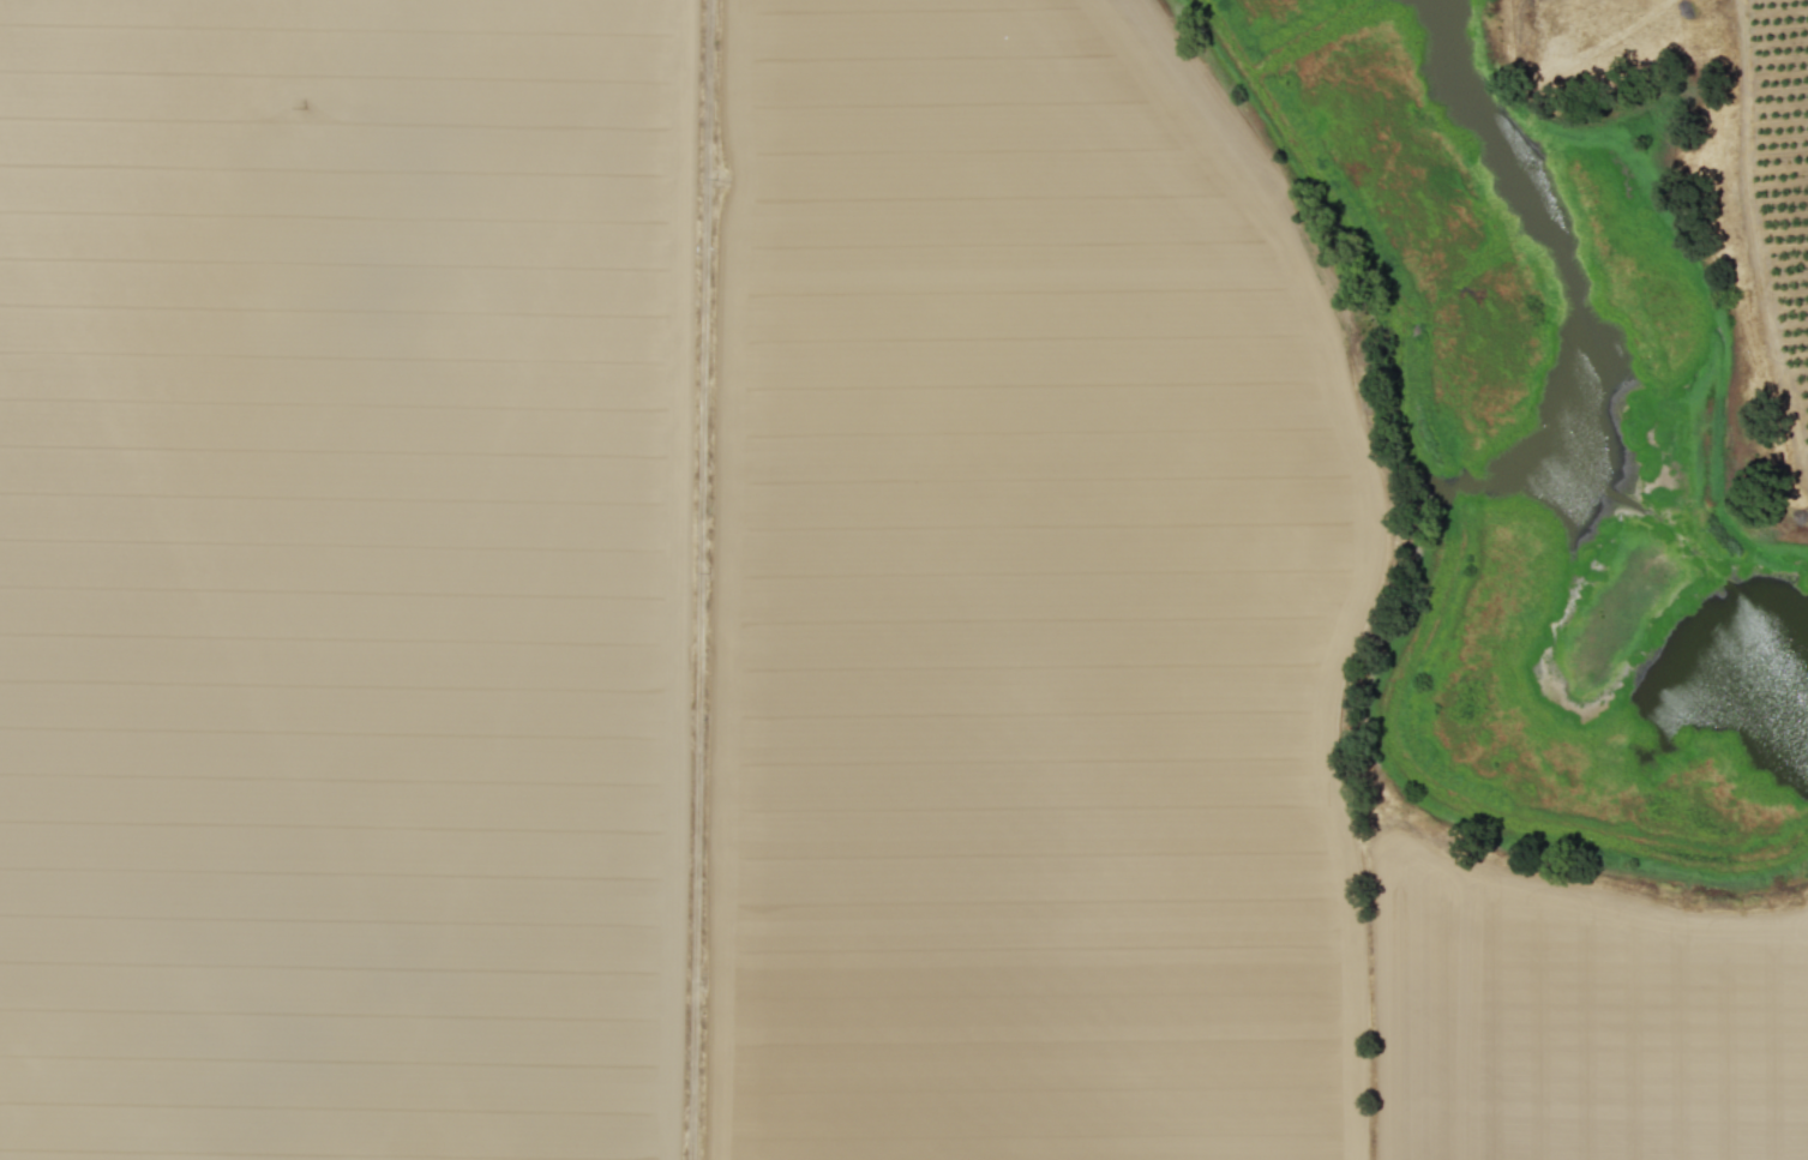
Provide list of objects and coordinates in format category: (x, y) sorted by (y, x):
crop: (762, 620)

